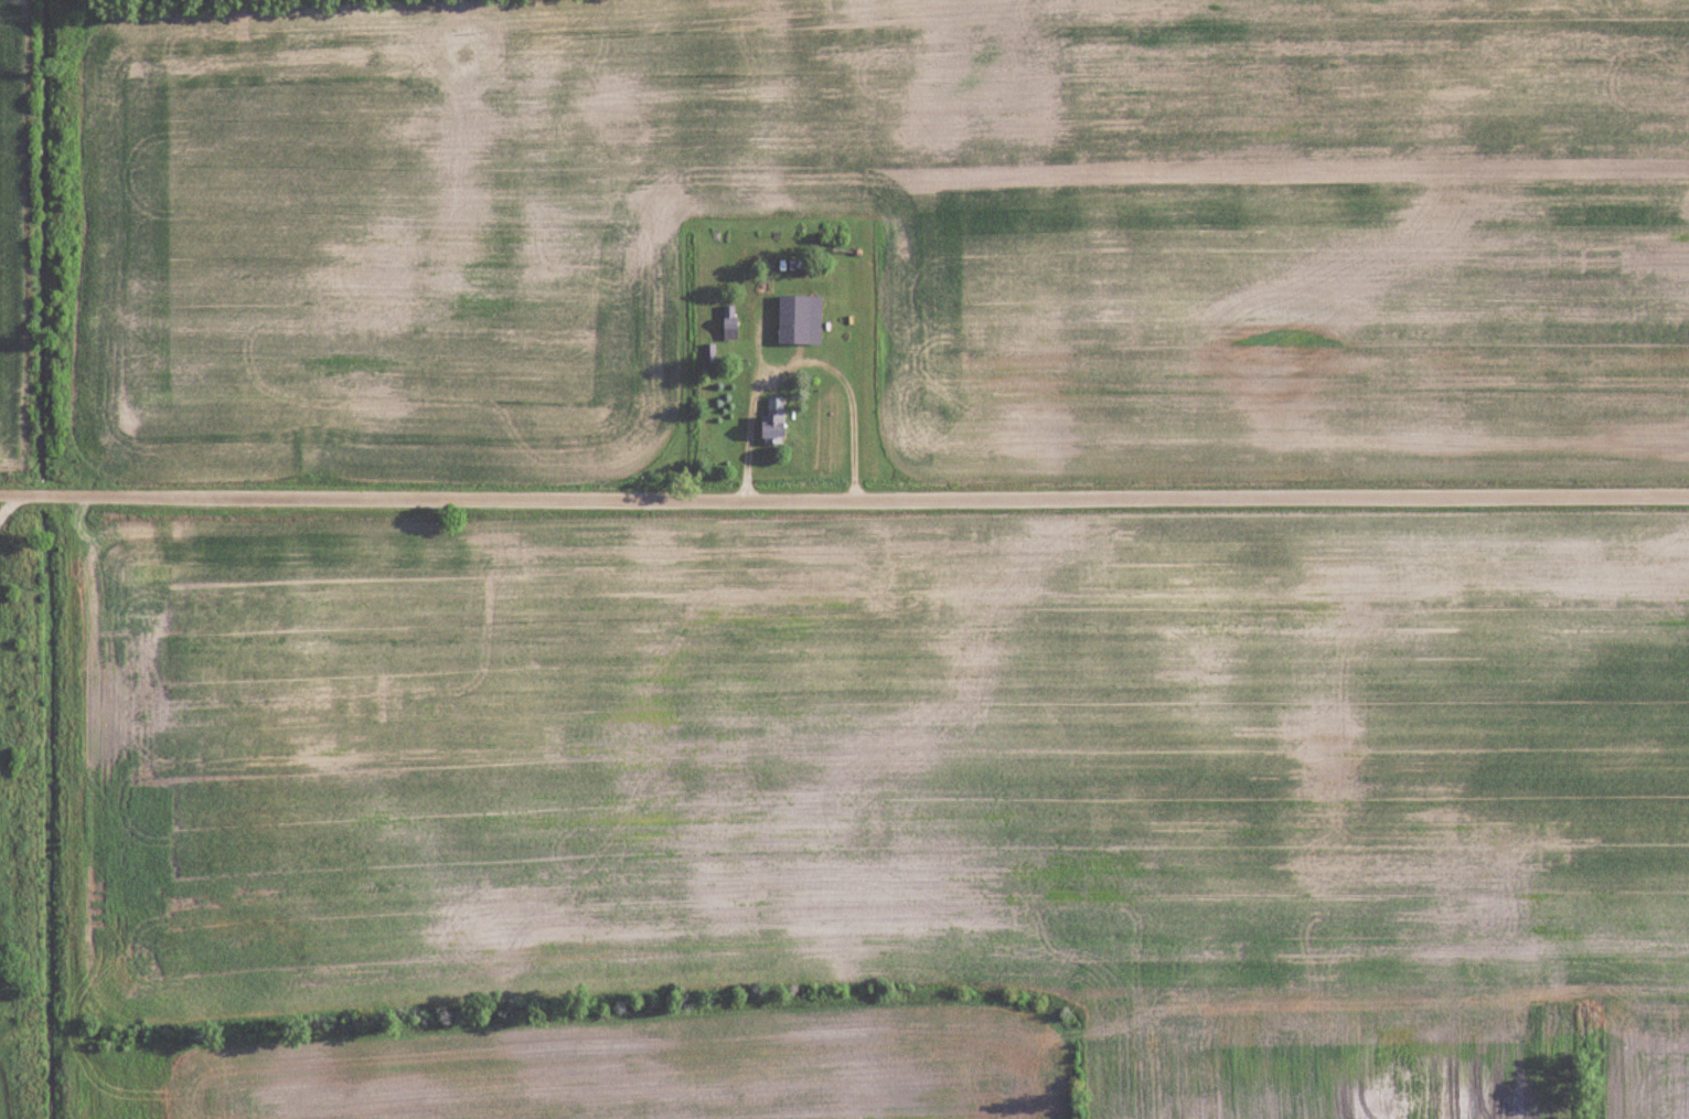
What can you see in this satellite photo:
building: (800, 320)
road: (802, 363)
building: (773, 419)
road: (844, 494)

